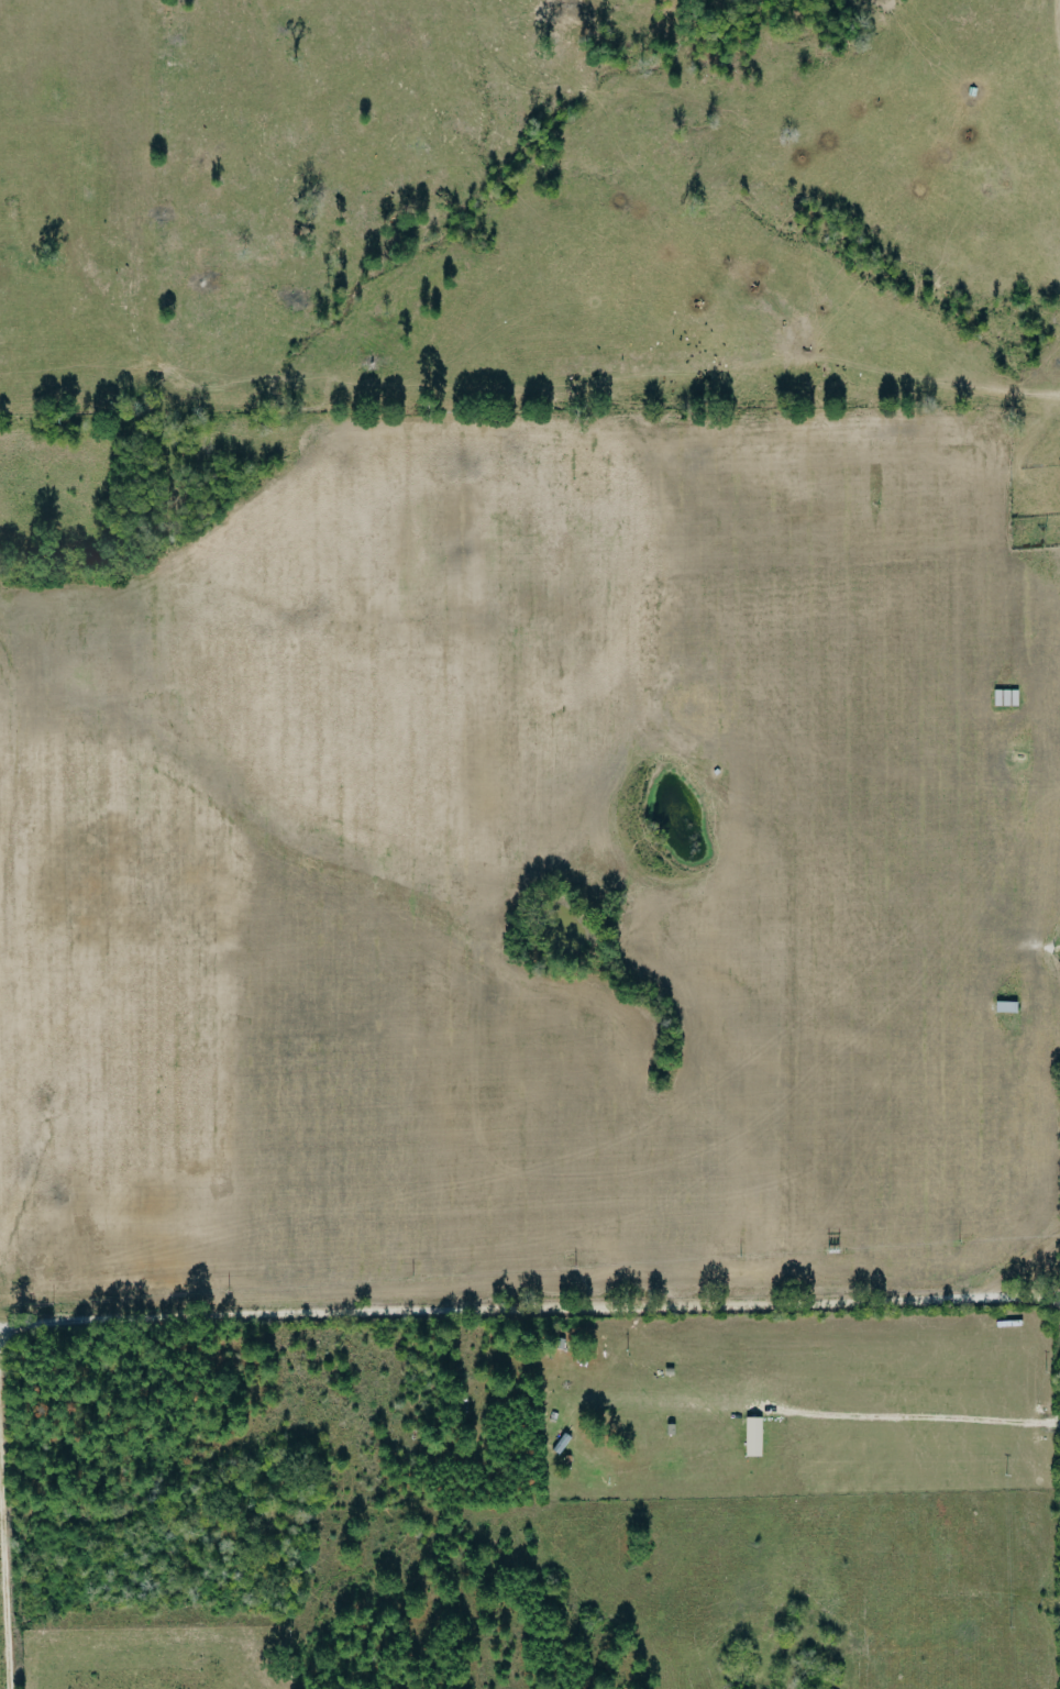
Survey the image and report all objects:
building: (755, 1436)

